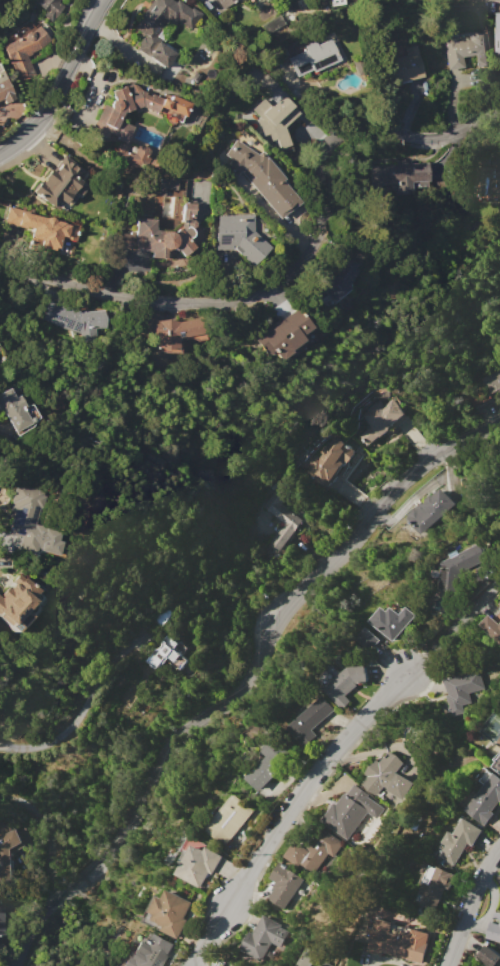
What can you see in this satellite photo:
building: (0, 0)
building: (224, 2)
building: (333, 3)
building: (316, 4)
building: (2, 7)
building: (50, 8)
building: (269, 24)
building: (148, 33)
building: (497, 33)
building: (24, 49)
building: (465, 50)
building: (312, 58)
building: (402, 66)
road: (59, 83)
building: (3, 90)
building: (113, 115)
building: (276, 122)
building: (136, 157)
building: (398, 176)
building: (261, 177)
building: (491, 177)
building: (58, 182)
building: (165, 186)
building: (42, 228)
building: (164, 235)
building: (239, 237)
road: (296, 265)
building: (338, 279)
building: (75, 320)
building: (167, 330)
building: (282, 335)
building: (490, 382)
building: (17, 412)
building: (379, 419)
building: (328, 461)
building: (499, 472)
building: (431, 509)
building: (292, 521)
building: (28, 522)
building: (458, 567)
building: (13, 595)
building: (499, 602)
building: (392, 621)
road: (451, 626)
building: (491, 627)
building: (368, 638)
building: (169, 653)
road: (241, 676)
building: (347, 684)
building: (460, 689)
road: (83, 709)
building: (311, 719)
building: (269, 761)
building: (497, 762)
building: (387, 777)
building: (486, 800)
building: (350, 811)
road: (288, 813)
building: (227, 820)
road: (45, 830)
building: (459, 840)
building: (10, 846)
building: (314, 852)
building: (198, 865)
building: (284, 885)
building: (434, 889)
road: (471, 905)
building: (170, 912)
building: (1, 920)
building: (493, 932)
building: (263, 938)
building: (399, 941)
building: (149, 953)
building: (311, 957)
building: (489, 957)

